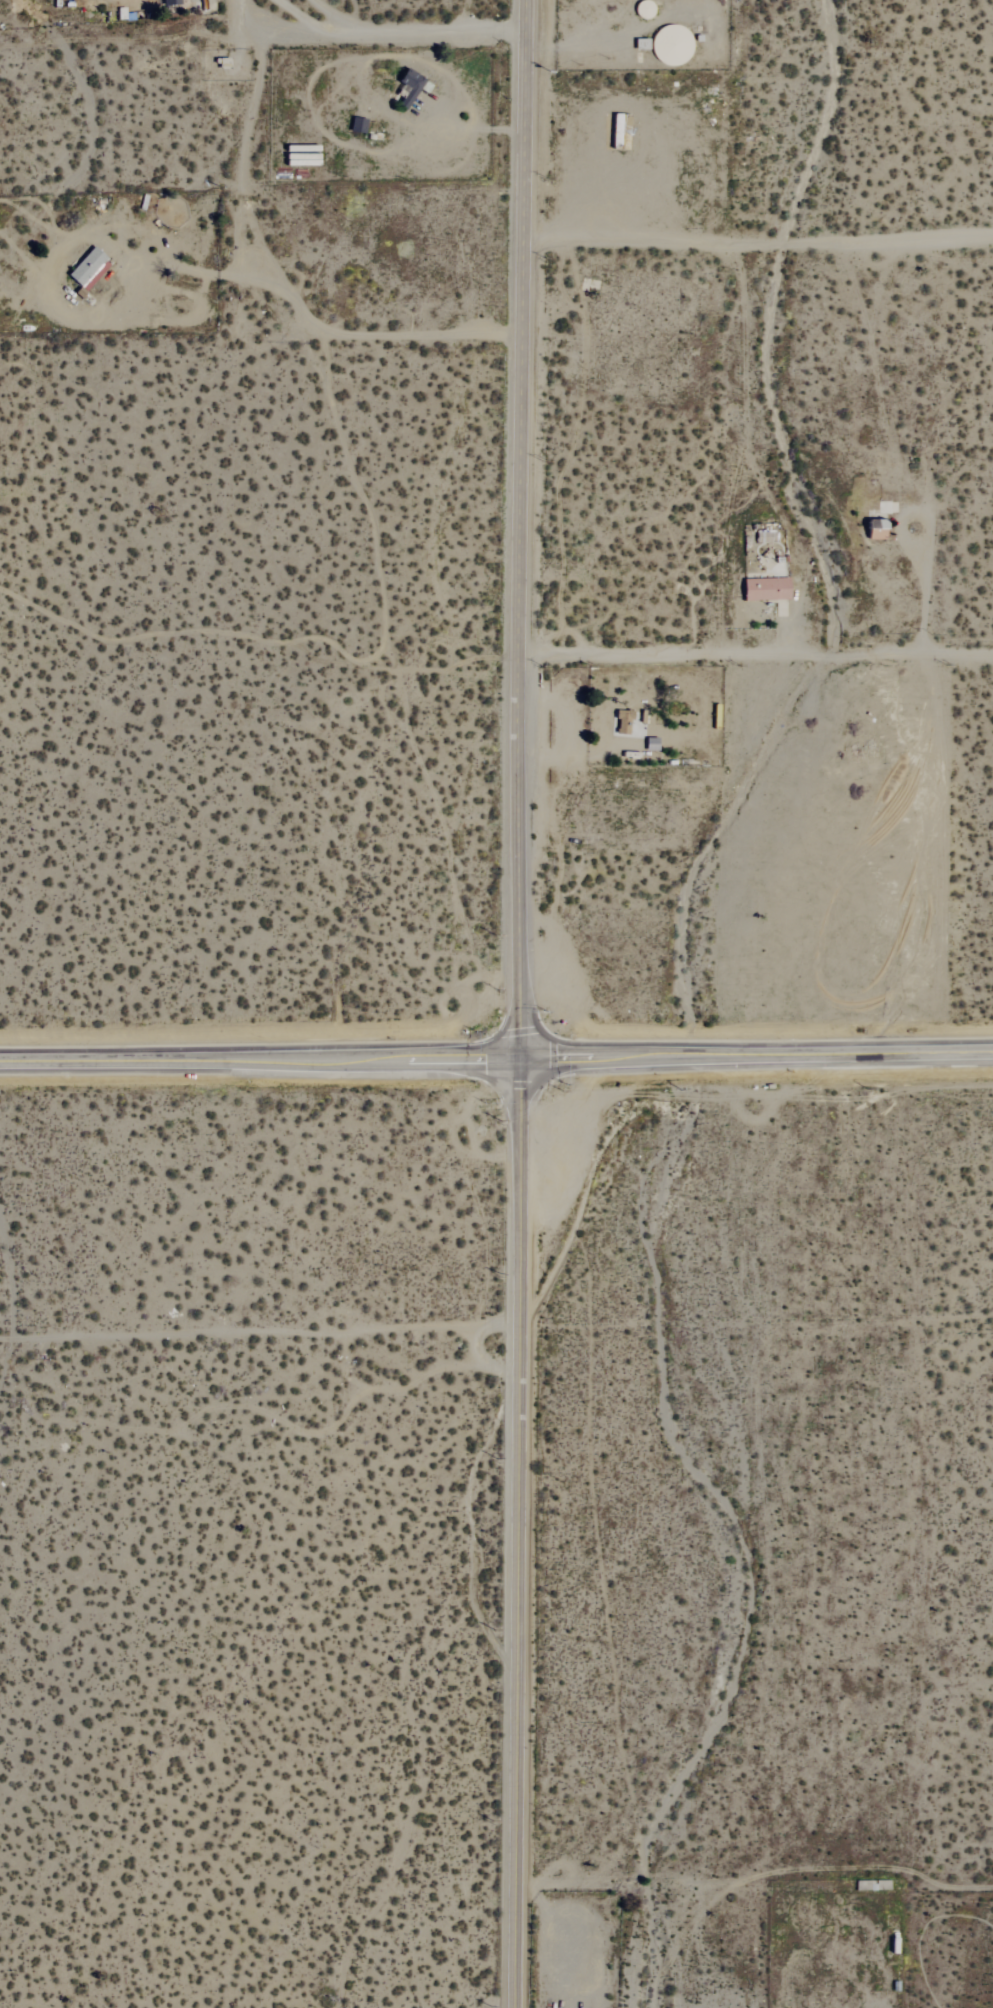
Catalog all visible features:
building: (170, 3)
road: (249, 14)
road: (335, 15)
road: (385, 30)
building: (670, 45)
building: (409, 83)
road: (760, 236)
road: (182, 267)
building: (86, 268)
road: (270, 284)
road: (524, 380)
road: (924, 523)
building: (874, 529)
building: (764, 589)
road: (924, 595)
road: (785, 628)
road: (758, 652)
building: (622, 722)
road: (520, 910)
road: (756, 1054)
road: (259, 1058)
traffic signals: (519, 1058)
road: (516, 1533)

